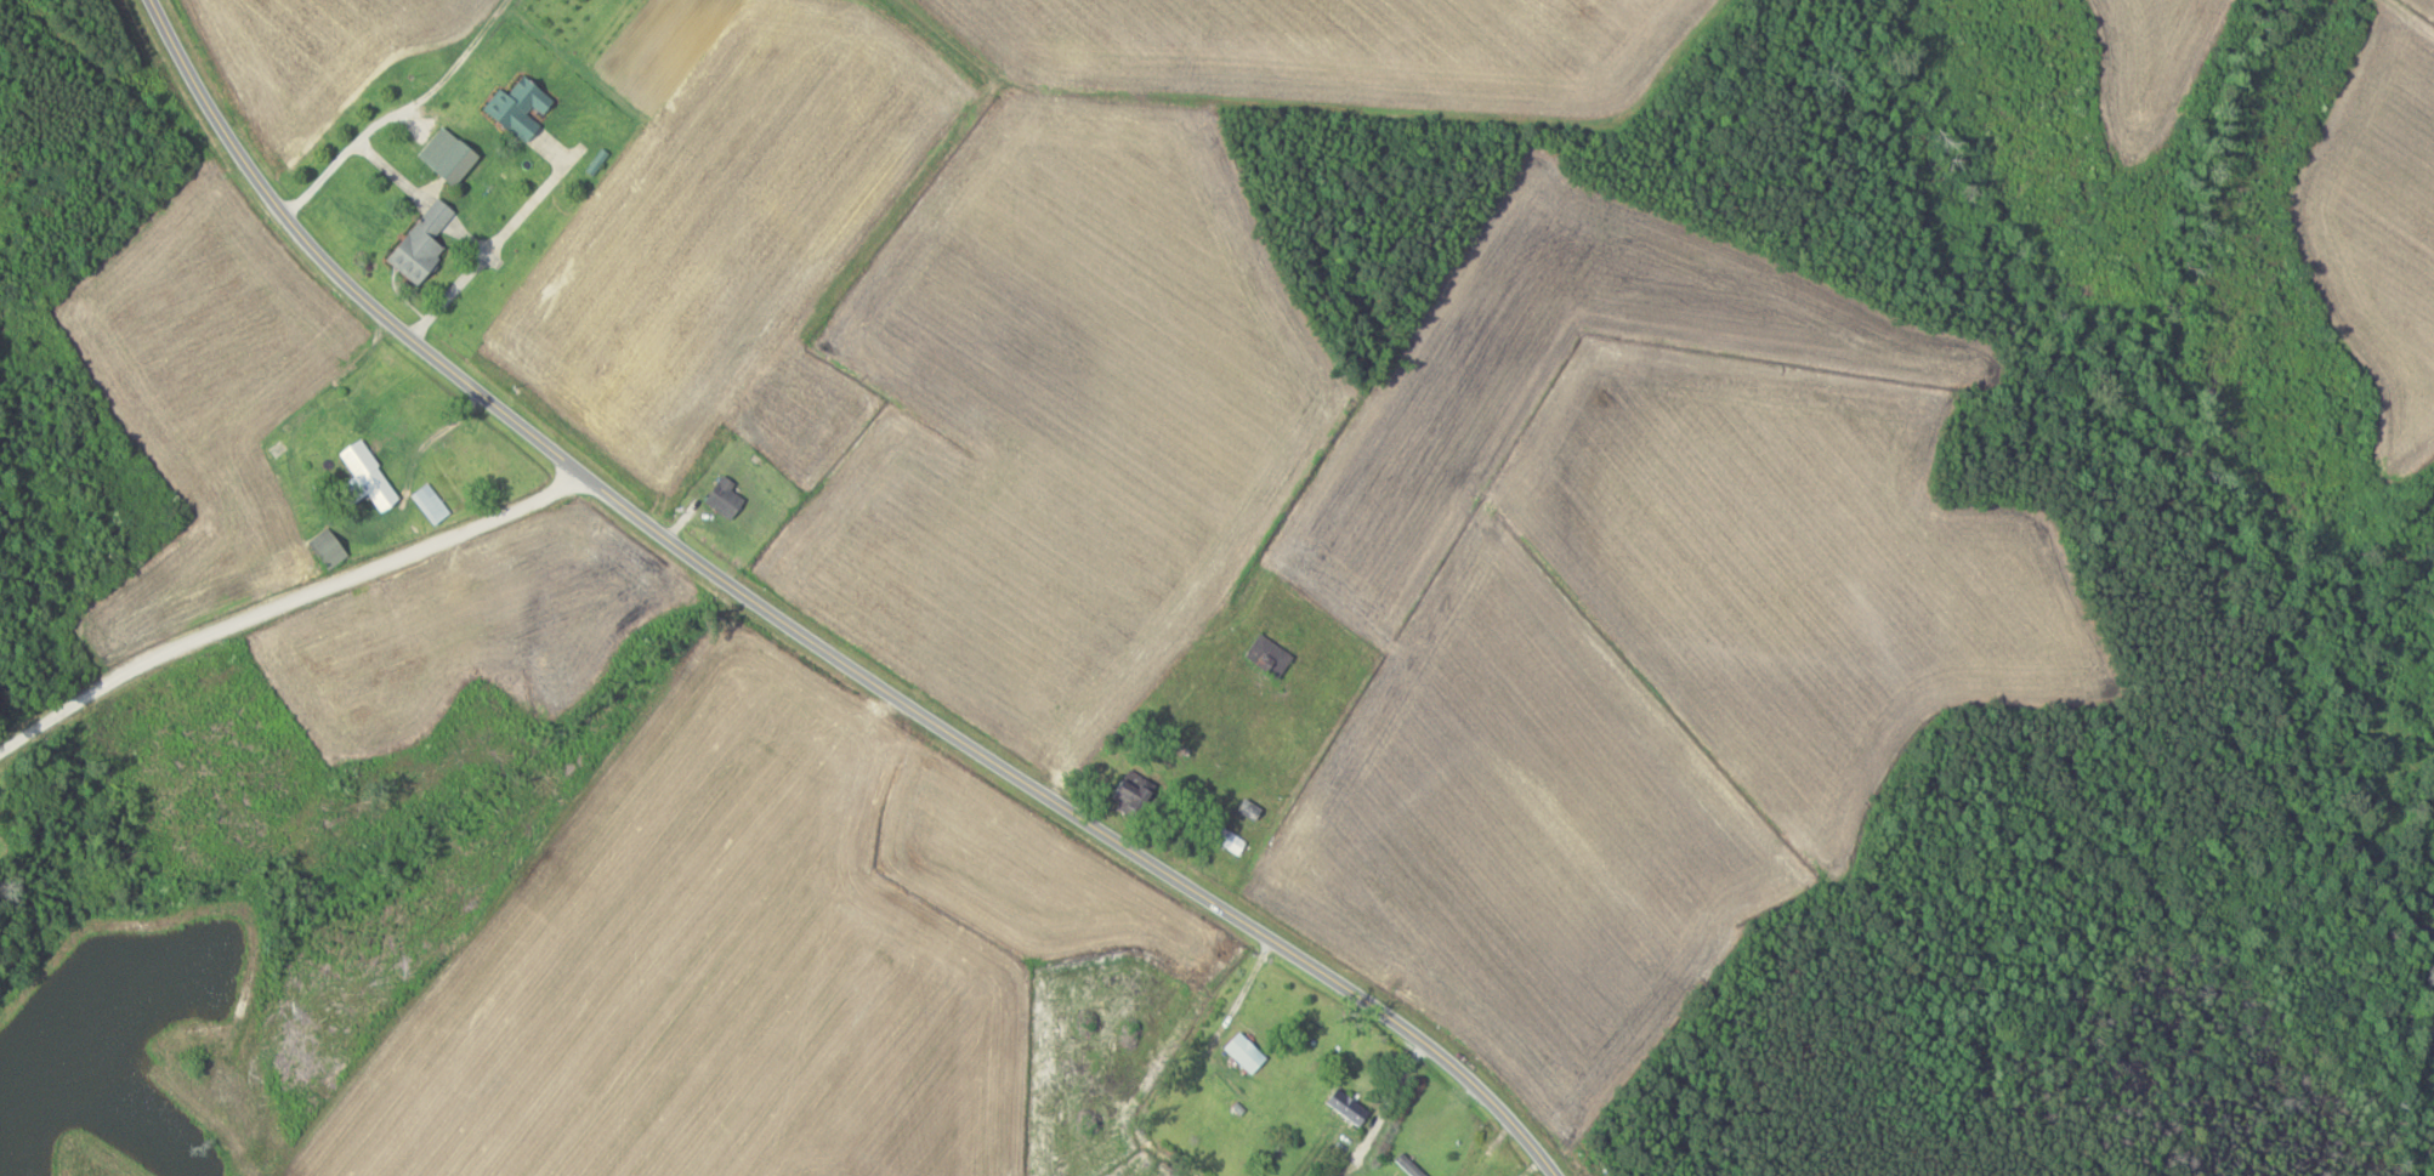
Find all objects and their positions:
road: (286, 601)
road: (807, 637)
park: (6, 842)

